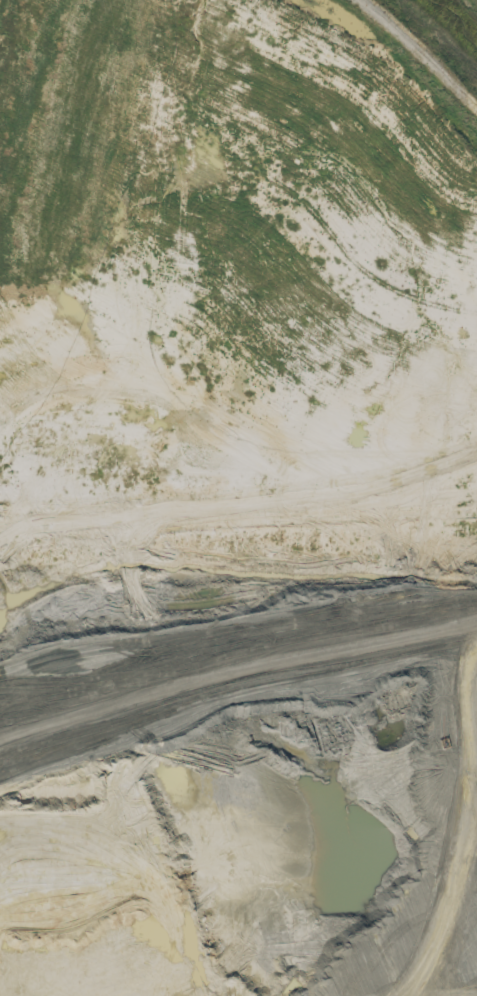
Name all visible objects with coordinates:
quarry: (227, 471)

